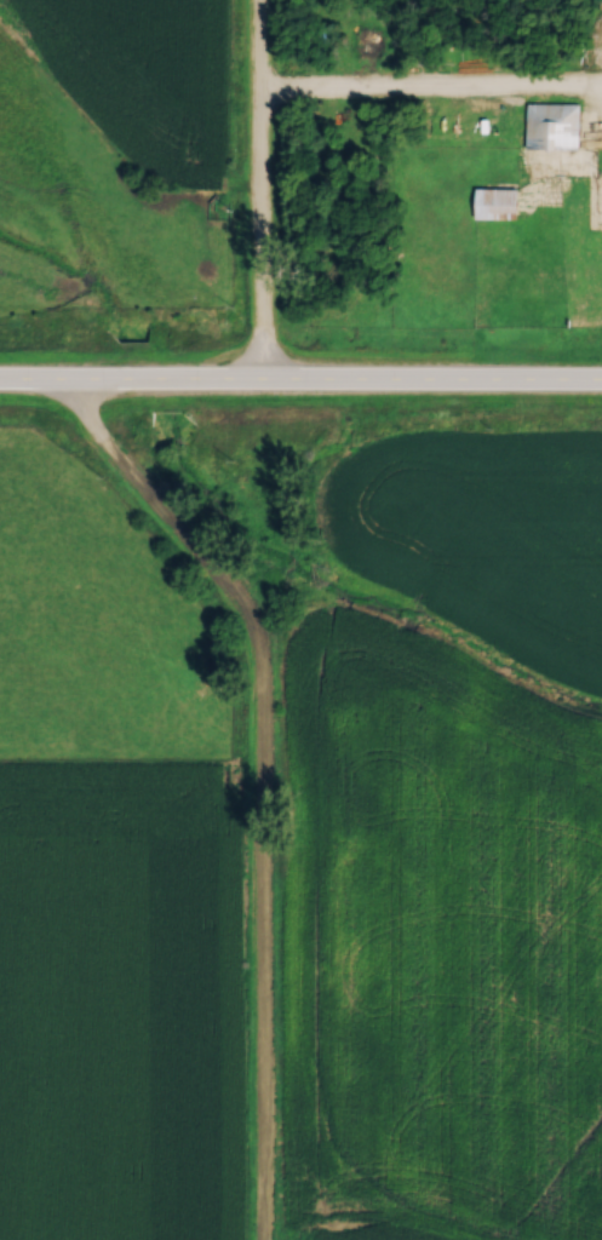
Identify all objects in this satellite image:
building: (552, 130)
road: (254, 190)
building: (498, 199)
road: (300, 380)
road: (252, 777)

